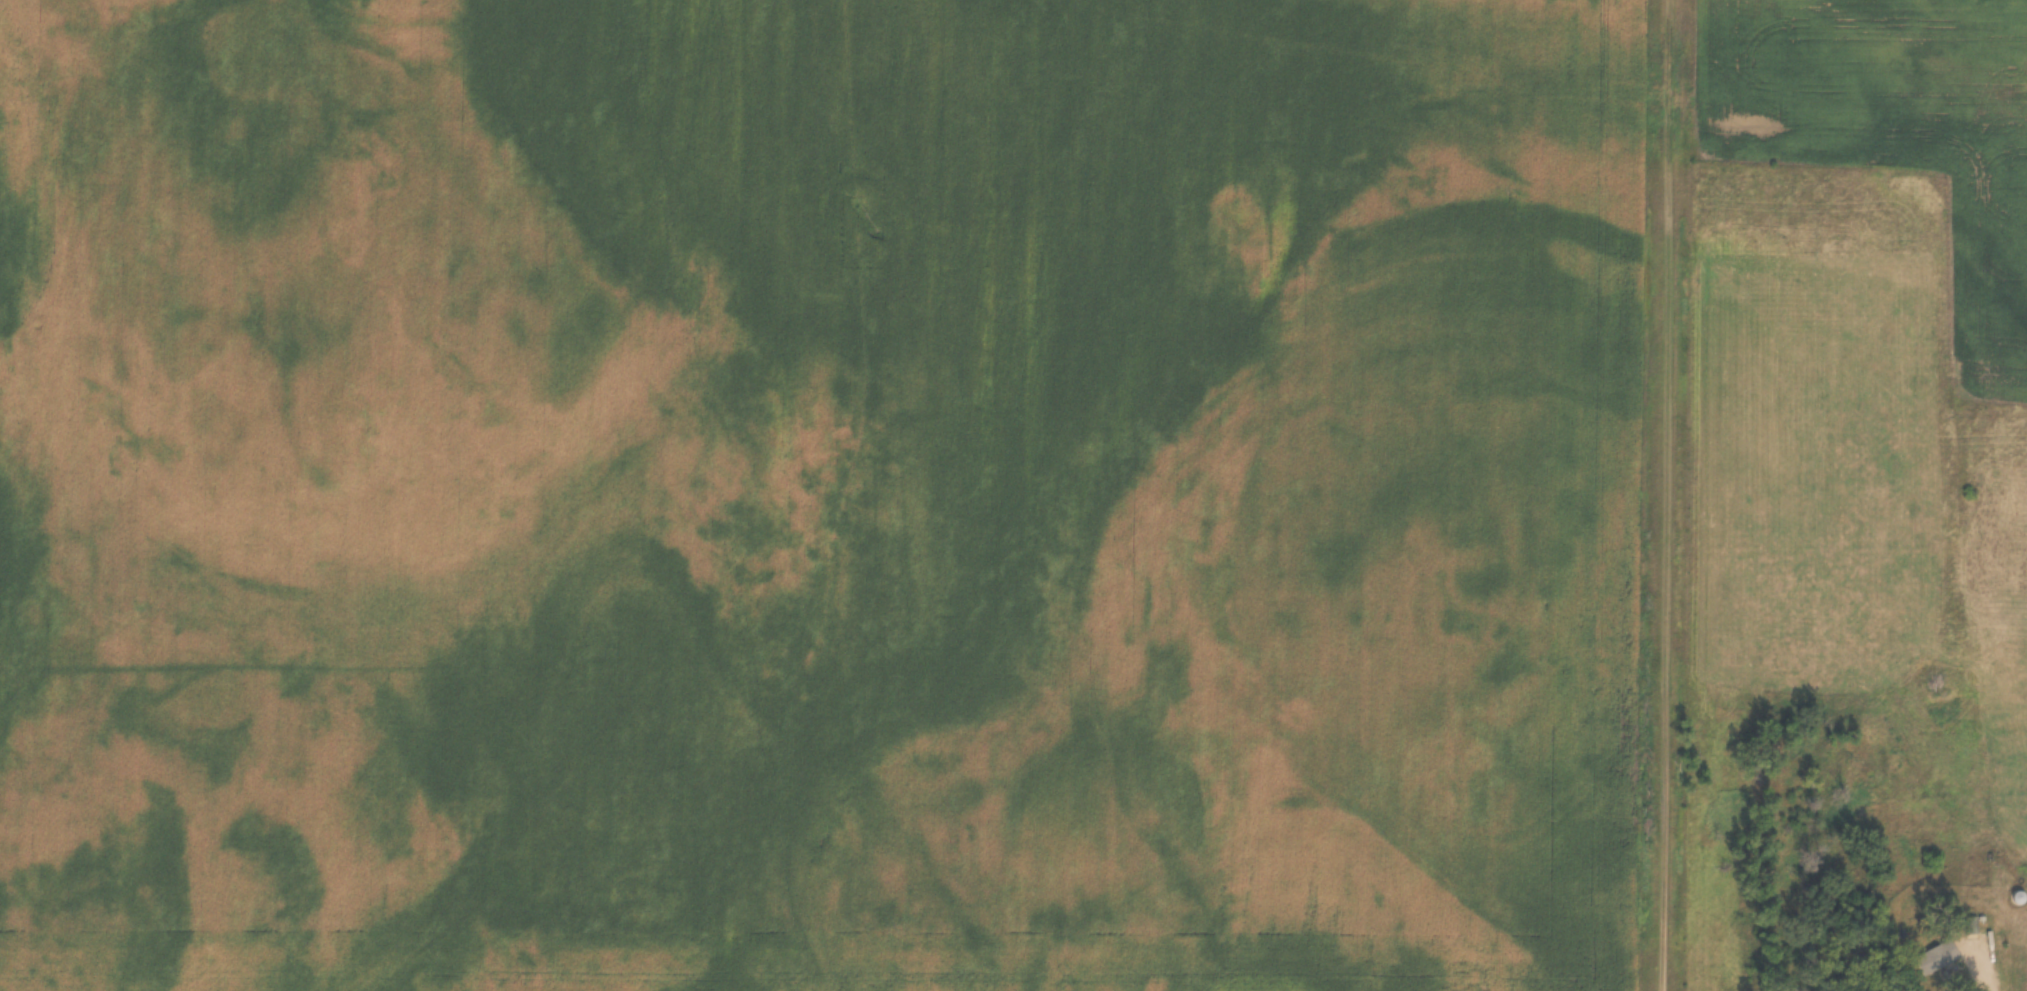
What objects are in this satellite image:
building: (1938, 958)

